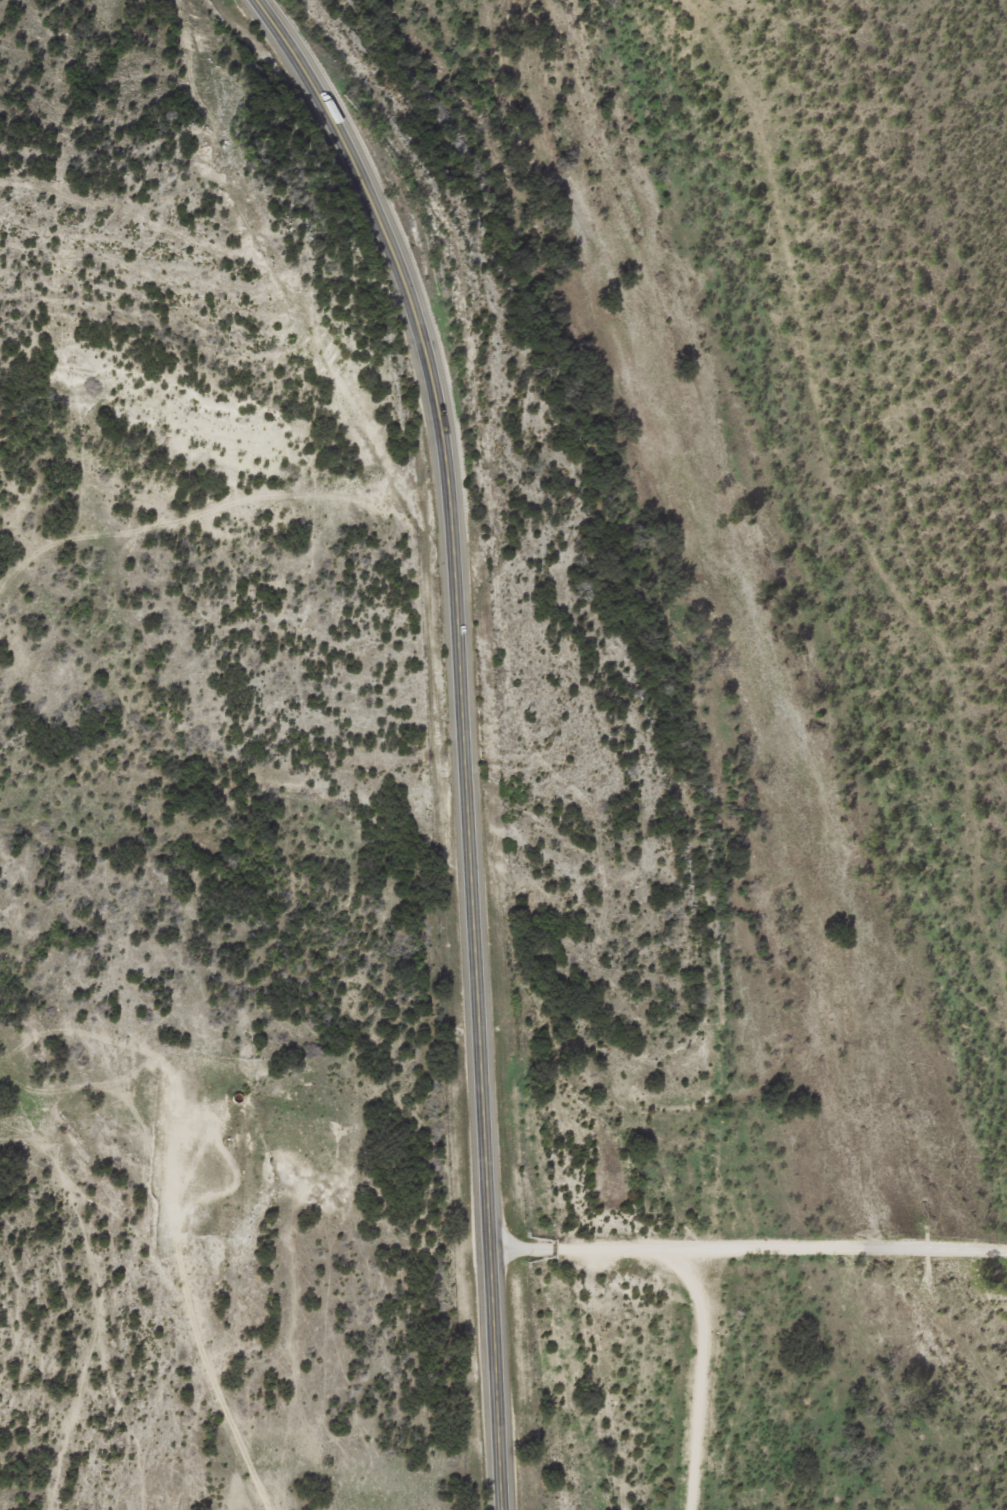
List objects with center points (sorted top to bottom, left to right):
river: (766, 704)
road: (460, 732)
road: (748, 1250)

